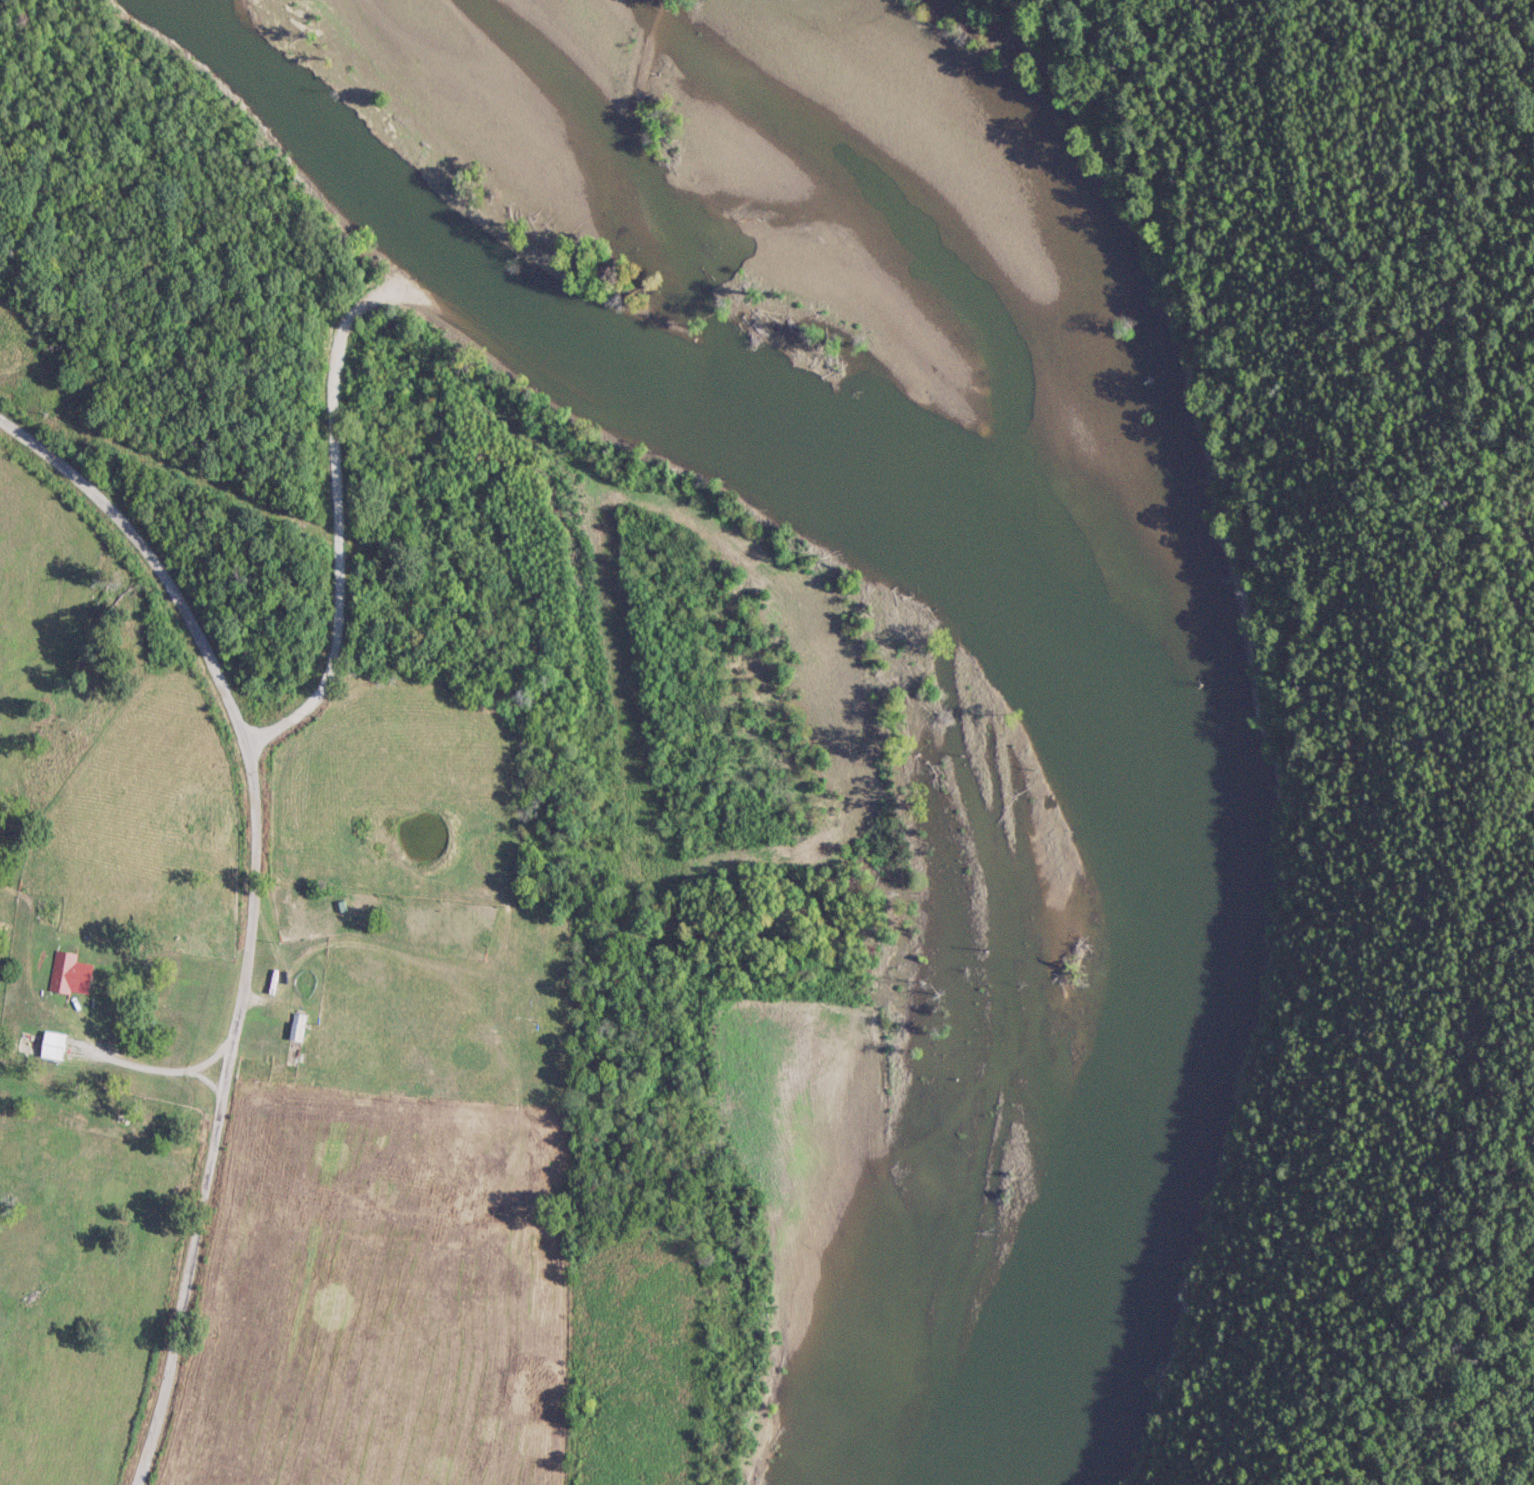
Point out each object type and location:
road: (643, 174)
road: (334, 351)
road: (700, 369)
road: (124, 625)
building: (71, 974)
building: (298, 1028)
building: (54, 1045)
road: (156, 1069)
road: (200, 1081)
road: (209, 1121)

